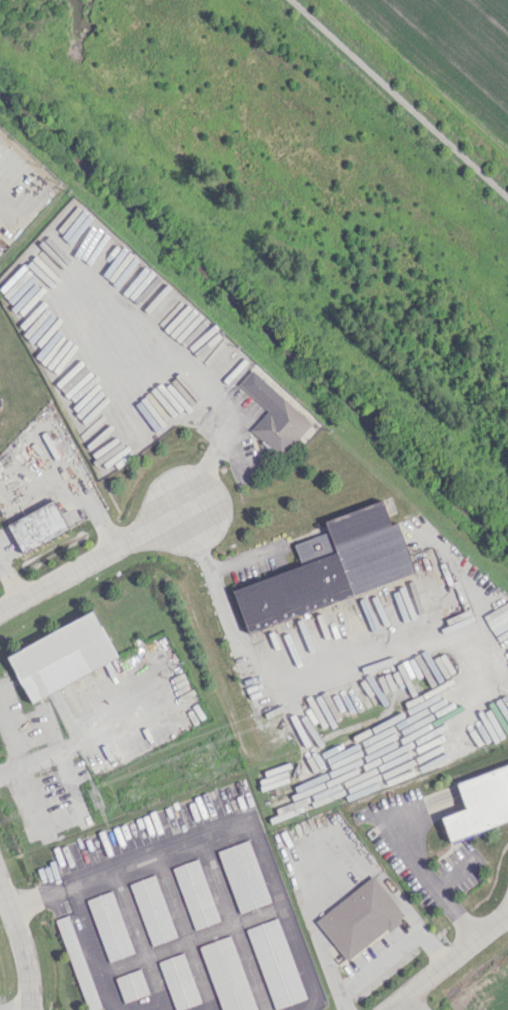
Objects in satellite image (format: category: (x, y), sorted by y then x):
road: (397, 100)
road: (5, 212)
building: (273, 414)
building: (36, 526)
road: (243, 555)
road: (91, 559)
building: (331, 567)
road: (217, 594)
road: (388, 627)
building: (60, 656)
power tower: (94, 799)
building: (479, 802)
road: (252, 828)
building: (243, 876)
road: (431, 882)
road: (37, 893)
building: (195, 894)
building: (152, 910)
building: (359, 917)
building: (109, 925)
road: (21, 948)
road: (92, 951)
road: (388, 956)
road: (448, 961)
building: (77, 963)
building: (275, 963)
building: (226, 975)
building: (178, 981)
building: (131, 985)
road: (412, 1002)

